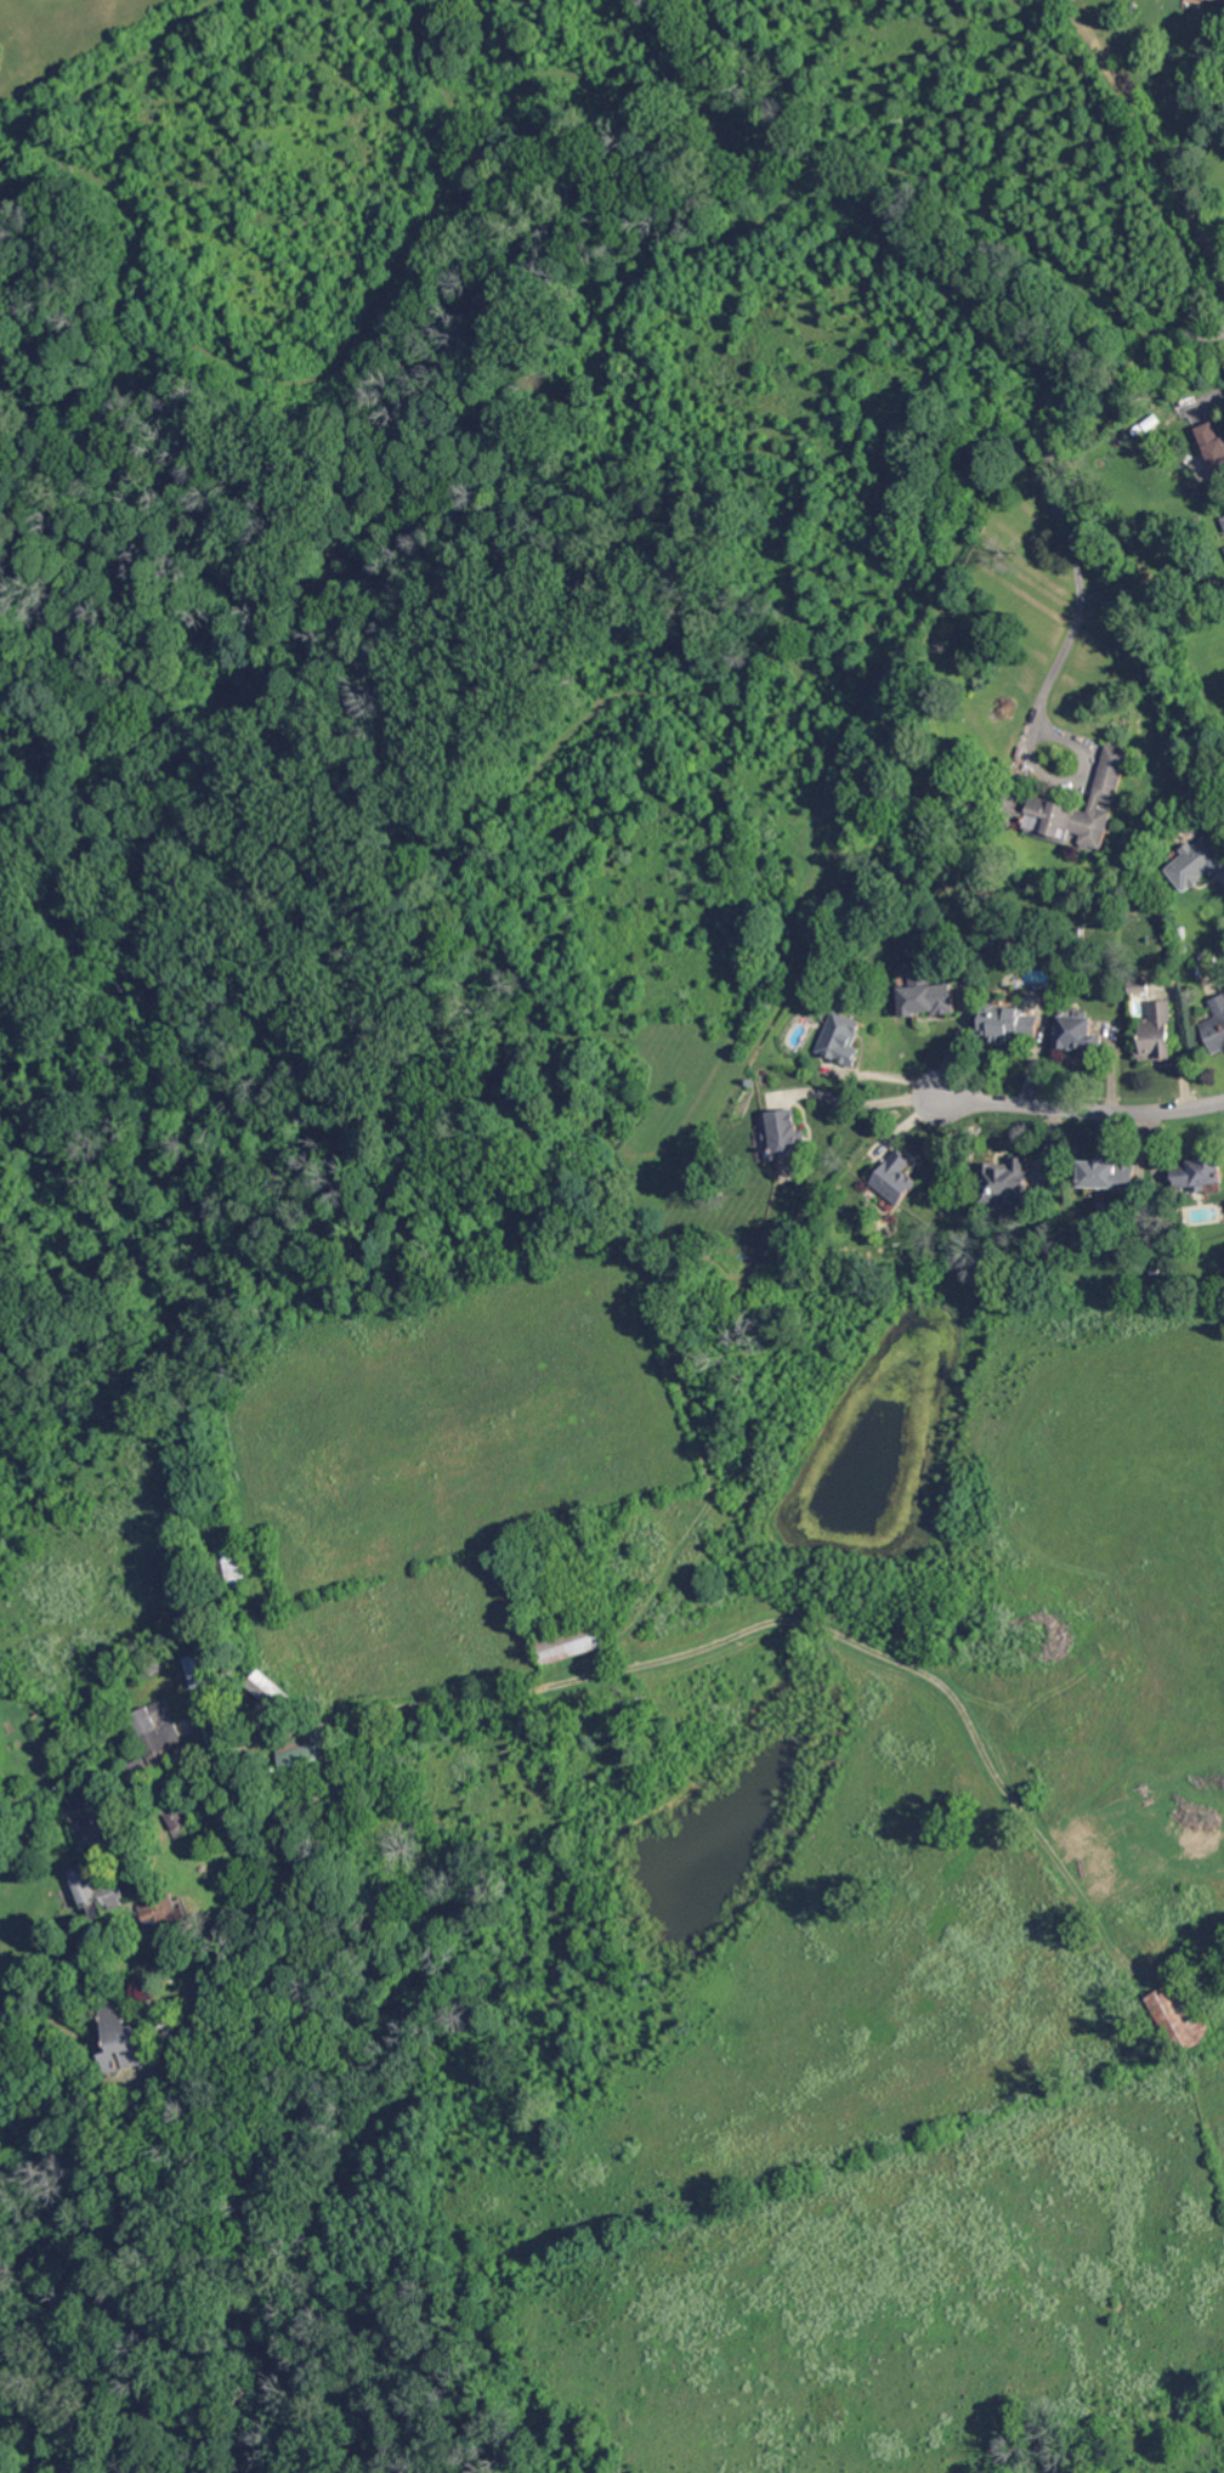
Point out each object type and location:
road: (1053, 487)
building: (1223, 516)
road: (1075, 779)
road: (852, 1104)
road: (1079, 1107)
building: (576, 1642)
building: (199, 1669)
building: (274, 1692)
road: (372, 1709)
building: (432, 1726)
building: (216, 1732)
building: (158, 1735)
building: (312, 1755)
building: (104, 1792)
building: (182, 1815)
building: (100, 1892)
building: (168, 1908)
building: (64, 1949)
road: (1215, 1958)
building: (89, 1969)
building: (1183, 2018)
building: (171, 2024)
building: (129, 2044)
building: (12, 2302)

